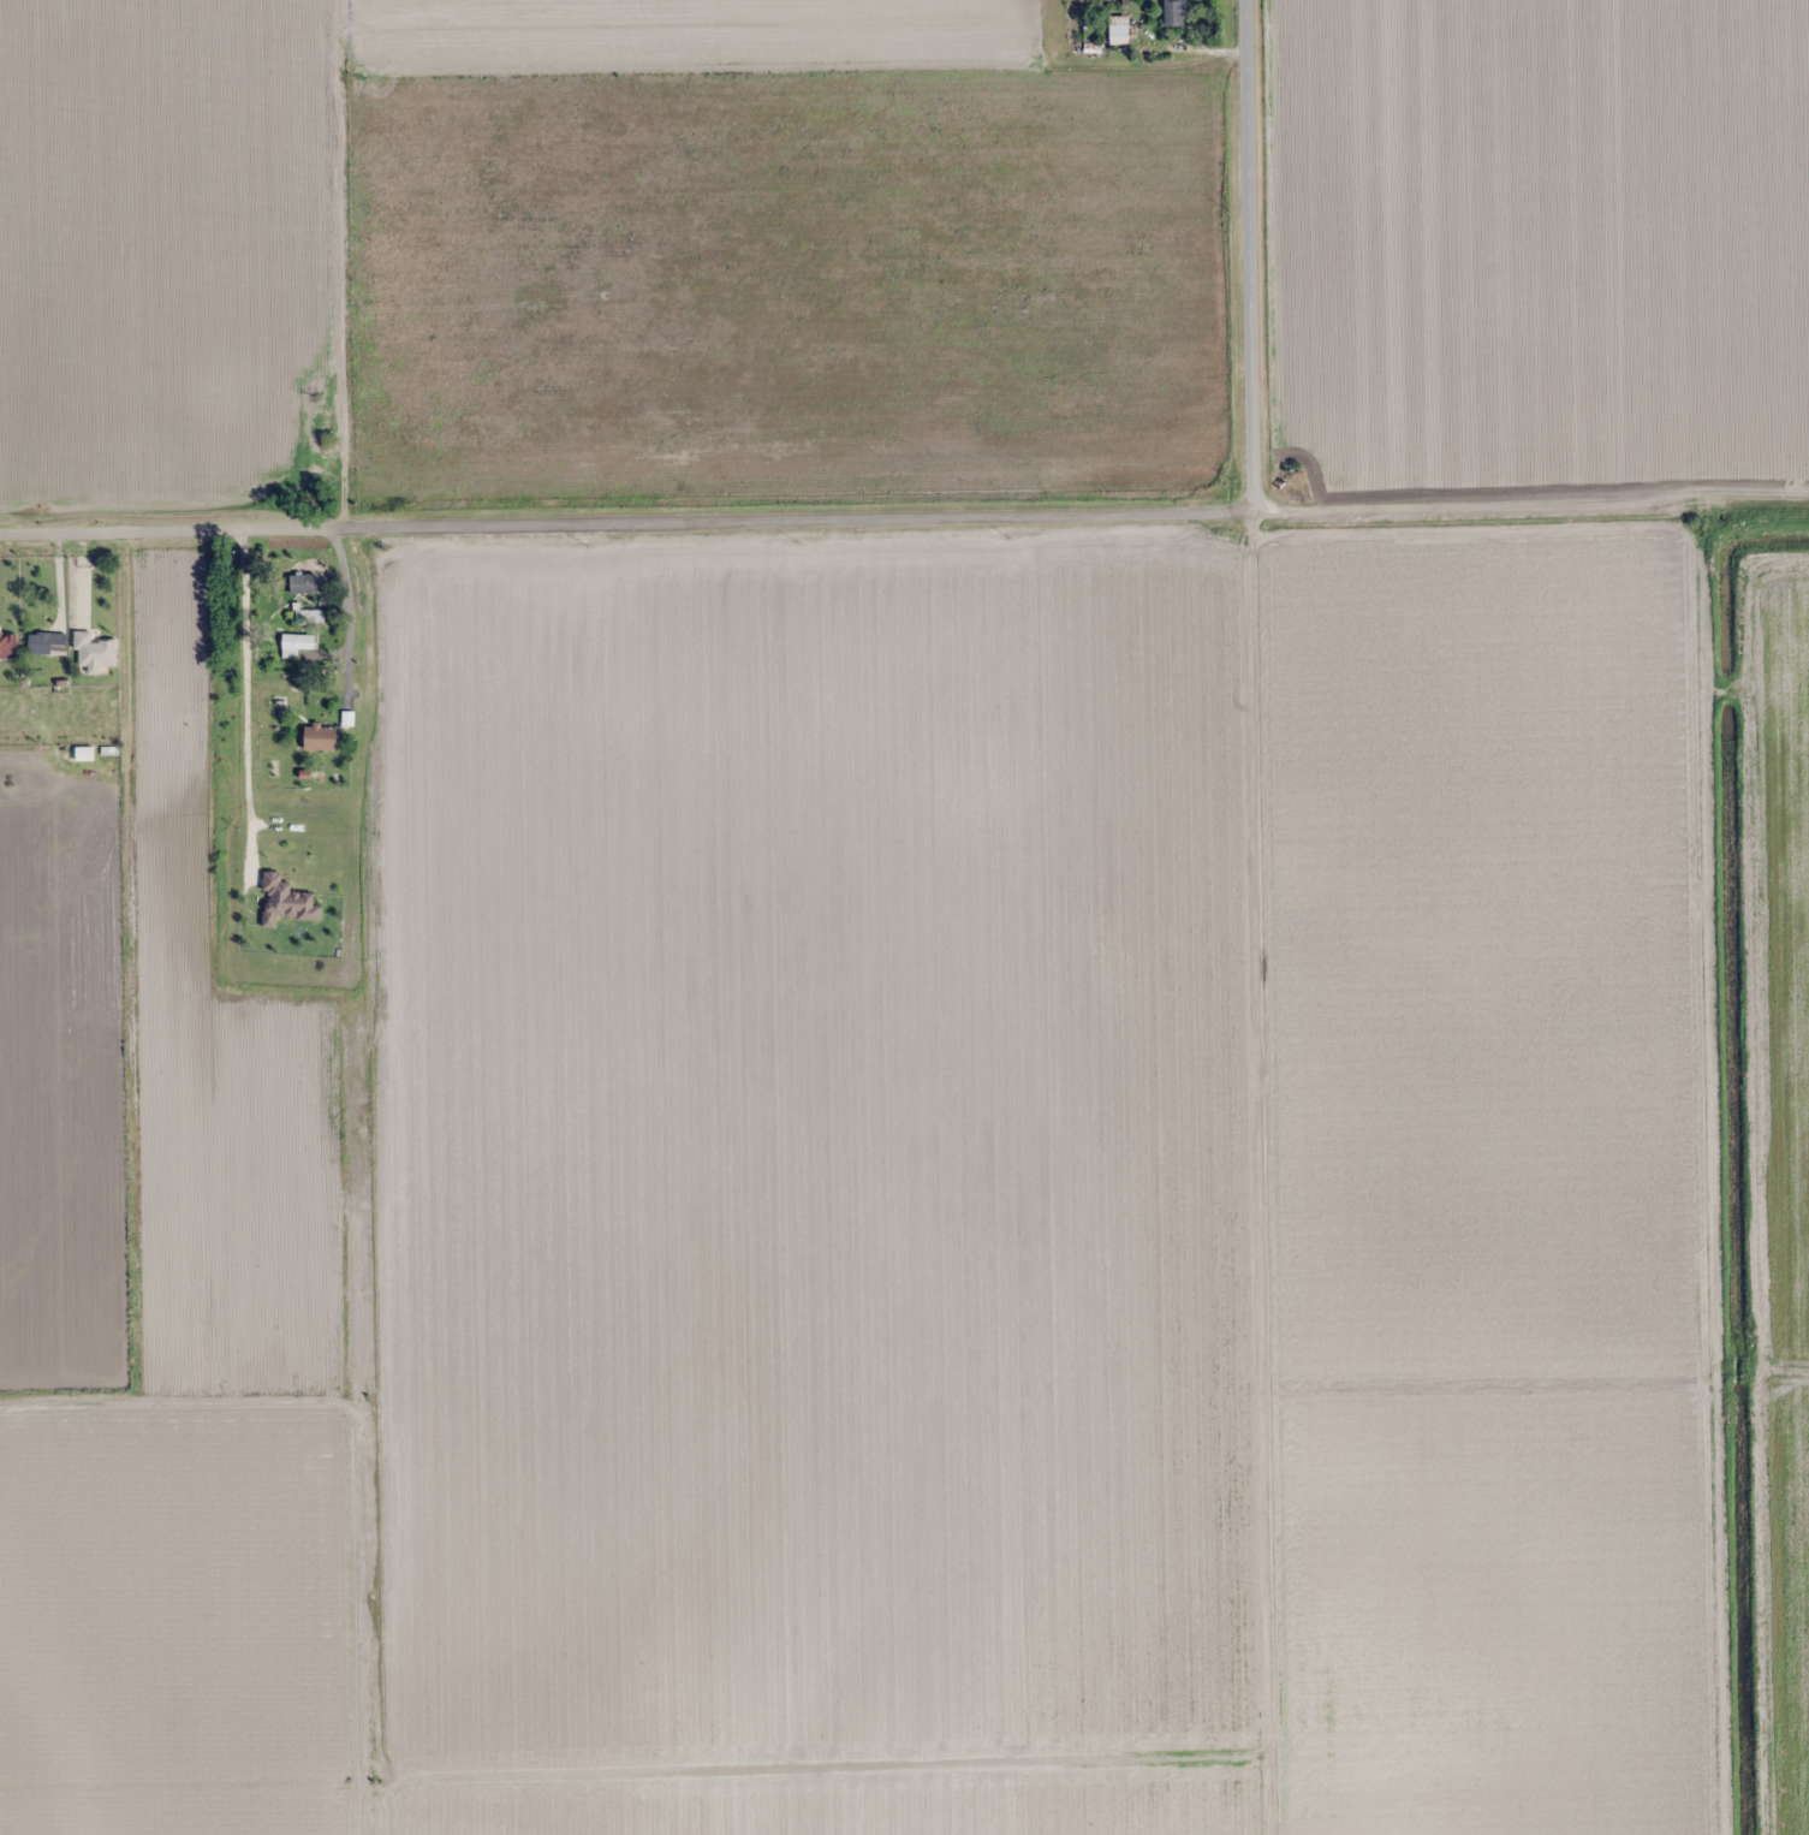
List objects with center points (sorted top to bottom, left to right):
building: (1176, 12)
building: (1119, 29)
road: (1238, 261)
road: (904, 523)
building: (304, 583)
building: (47, 645)
building: (298, 645)
building: (8, 646)
building: (95, 652)
building: (331, 740)
building: (286, 902)

